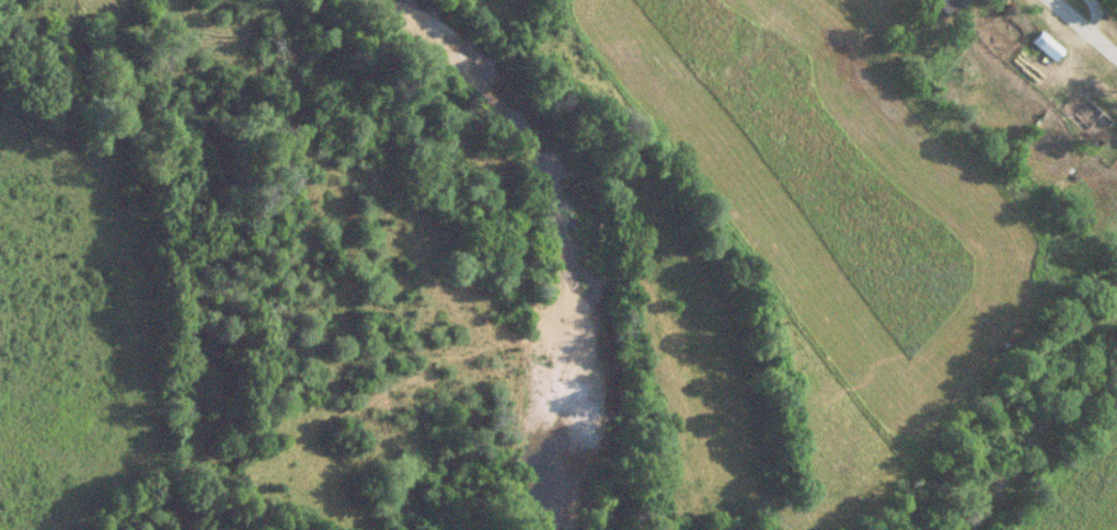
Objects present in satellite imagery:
road: (1082, 31)
building: (1045, 45)
building: (1081, 113)

